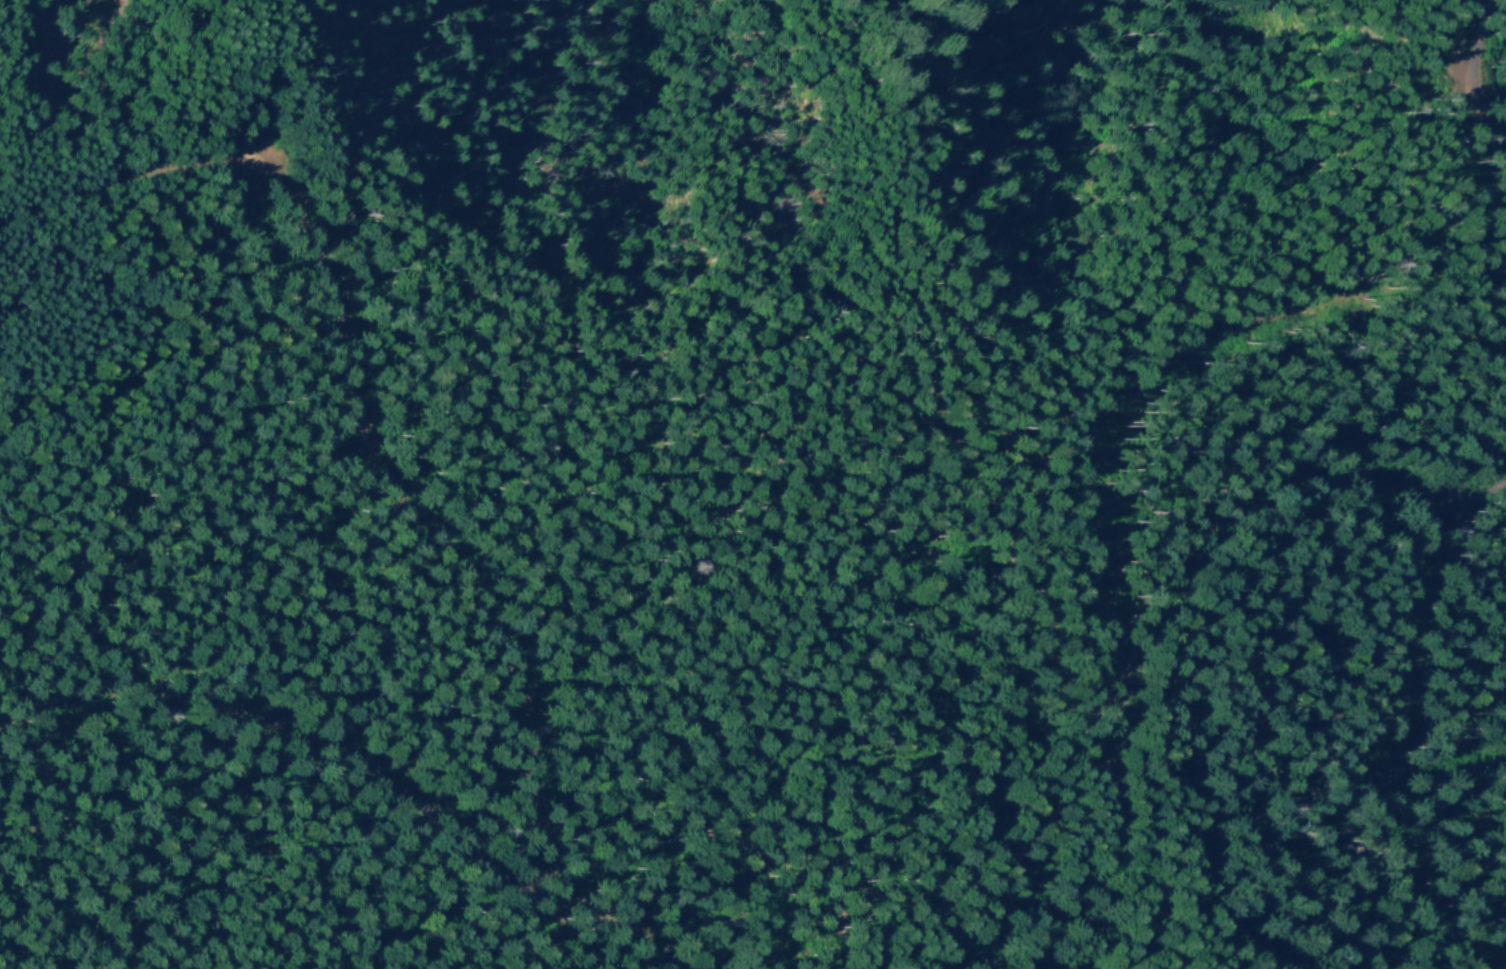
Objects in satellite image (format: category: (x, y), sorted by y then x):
road: (367, 744)

